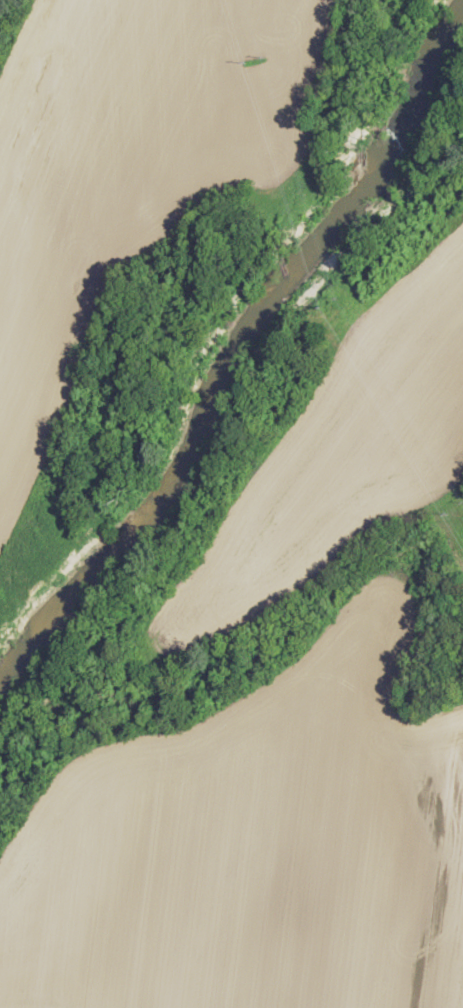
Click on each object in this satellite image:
river: (231, 334)

